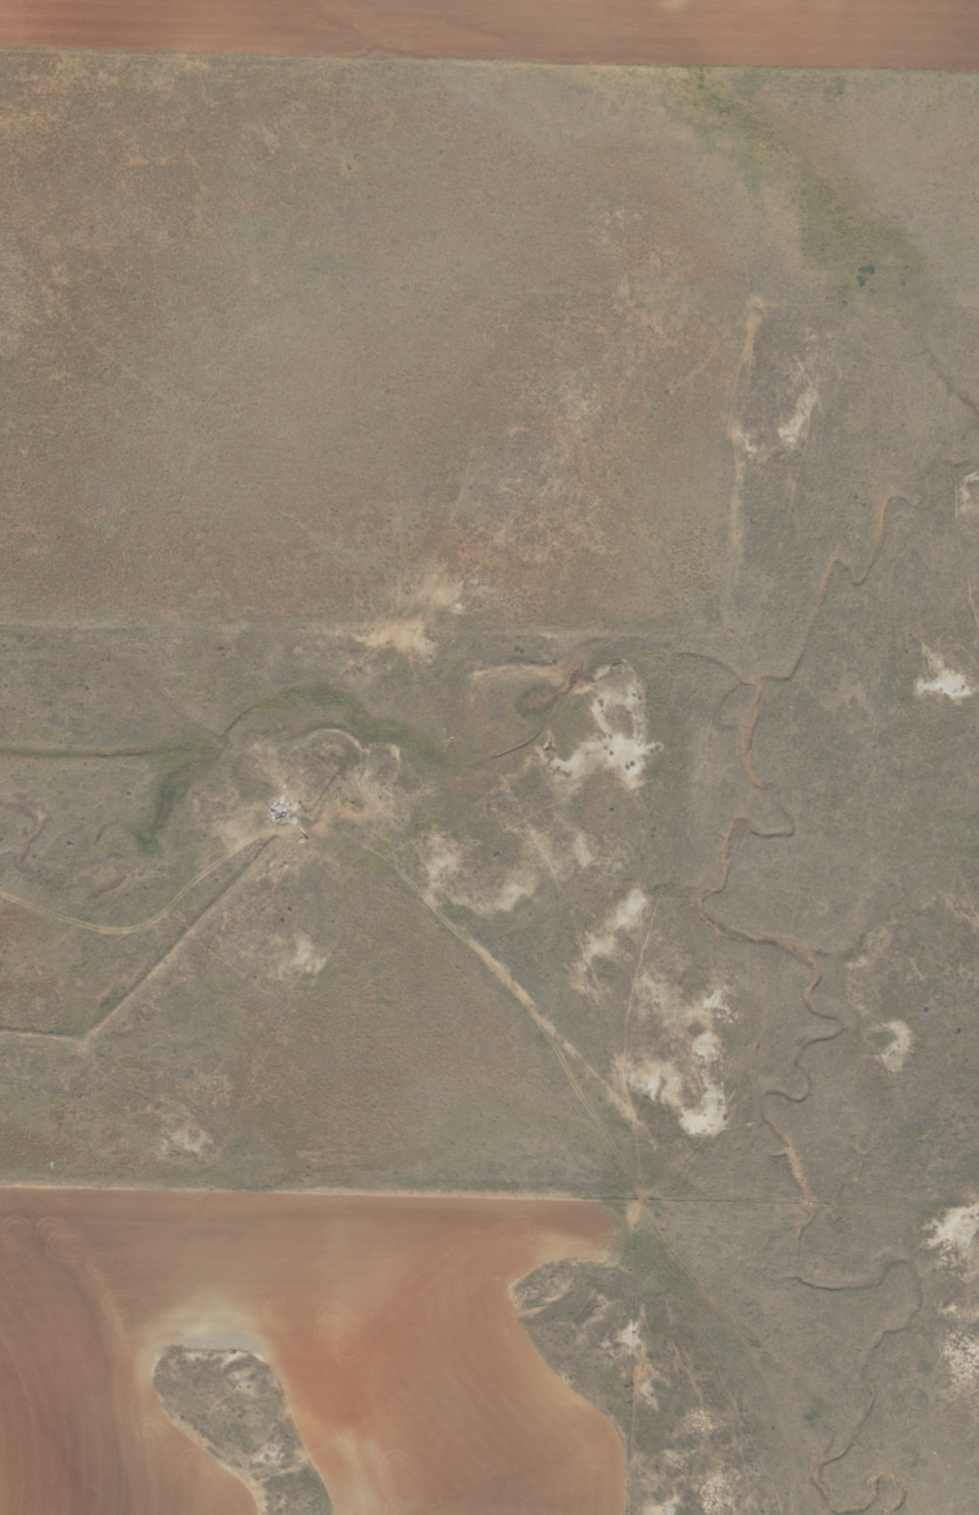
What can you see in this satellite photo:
road: (146, 933)

